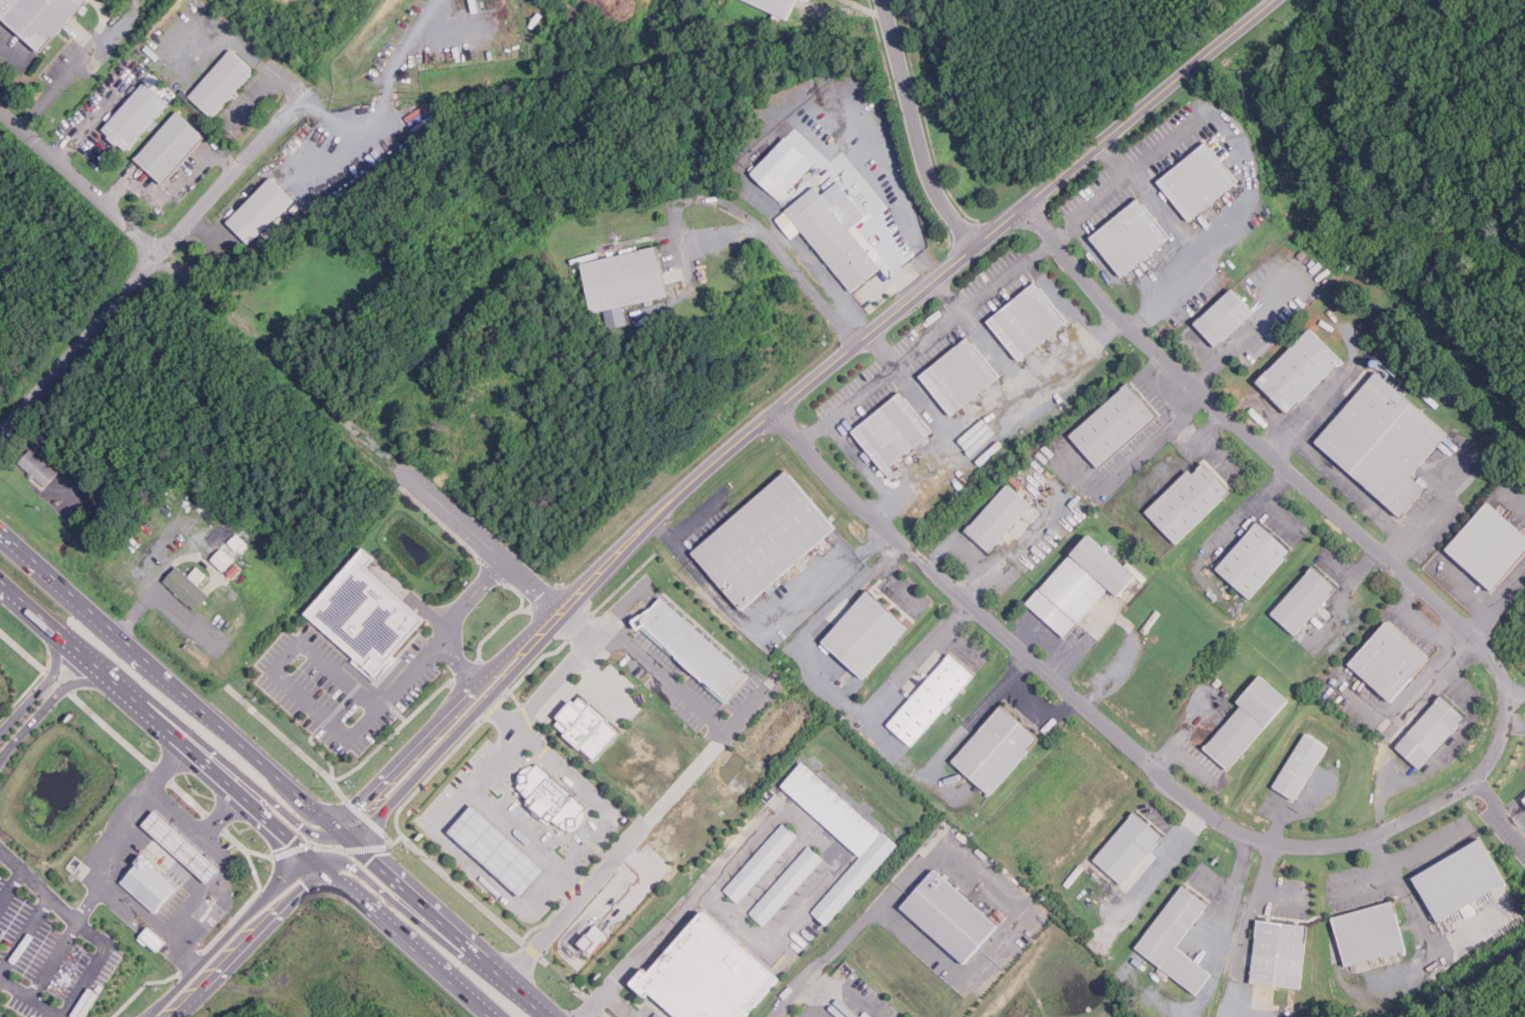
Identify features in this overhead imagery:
building: (779, 6)
building: (40, 17)
road: (258, 56)
road: (80, 63)
building: (223, 83)
building: (138, 116)
road: (83, 123)
road: (916, 130)
building: (173, 146)
road: (1246, 165)
building: (784, 167)
building: (1199, 181)
road: (79, 184)
road: (224, 185)
road: (172, 191)
road: (894, 199)
road: (1088, 206)
building: (263, 209)
building: (836, 230)
building: (1132, 238)
road: (780, 251)
building: (624, 282)
road: (951, 296)
road: (1074, 312)
road: (895, 314)
road: (960, 316)
building: (1225, 316)
building: (1029, 319)
road: (79, 347)
building: (522, 367)
building: (1304, 369)
building: (963, 375)
road: (847, 404)
road: (994, 413)
building: (1118, 424)
building: (895, 430)
building: (1384, 441)
road: (1134, 461)
building: (38, 467)
road: (870, 470)
road: (1347, 483)
building: (1188, 502)
building: (999, 516)
road: (1245, 517)
road: (482, 534)
road: (1029, 536)
building: (768, 539)
road: (959, 540)
building: (241, 545)
building: (1493, 547)
building: (223, 559)
building: (1255, 559)
road: (28, 561)
building: (1081, 585)
building: (188, 587)
road: (979, 587)
road: (469, 592)
road: (1348, 595)
road: (1474, 595)
building: (1305, 600)
road: (165, 601)
building: (358, 614)
road: (761, 632)
building: (867, 634)
building: (691, 648)
road: (503, 657)
road: (569, 659)
building: (1394, 660)
road: (460, 661)
road: (516, 668)
road: (169, 682)
road: (42, 685)
road: (829, 687)
road: (1516, 691)
building: (932, 699)
road: (49, 703)
road: (312, 705)
road: (1044, 709)
road: (501, 716)
road: (157, 717)
building: (1248, 721)
road: (1515, 722)
building: (590, 726)
road: (1179, 732)
building: (1432, 732)
road: (710, 745)
road: (949, 745)
building: (996, 749)
road: (406, 754)
road: (1194, 760)
road: (226, 763)
building: (1303, 765)
road: (421, 770)
building: (551, 795)
building: (1524, 800)
road: (486, 802)
road: (1296, 804)
road: (1436, 805)
road: (1500, 809)
road: (196, 832)
building: (840, 834)
traffic signals: (337, 836)
road: (1429, 845)
building: (184, 846)
building: (1129, 847)
building: (499, 850)
road: (575, 853)
traffic signals: (316, 857)
building: (761, 862)
road: (100, 865)
road: (476, 865)
road: (1155, 871)
road: (186, 875)
road: (1364, 878)
building: (1462, 880)
building: (150, 884)
building: (786, 885)
road: (11, 889)
road: (1231, 894)
road: (1278, 898)
road: (51, 899)
road: (88, 901)
road: (683, 907)
road: (881, 907)
road: (410, 916)
building: (950, 916)
road: (438, 927)
road: (1248, 929)
road: (1423, 932)
building: (1371, 934)
road: (24, 935)
road: (238, 936)
road: (404, 937)
building: (588, 937)
building: (153, 939)
building: (597, 939)
building: (1177, 939)
building: (1280, 954)
road: (53, 959)
building: (708, 974)
road: (813, 988)
road: (853, 991)
road: (790, 998)
road: (621, 1005)
road: (812, 1007)
road: (67, 1012)
building: (856, 1015)
building: (864, 1016)

